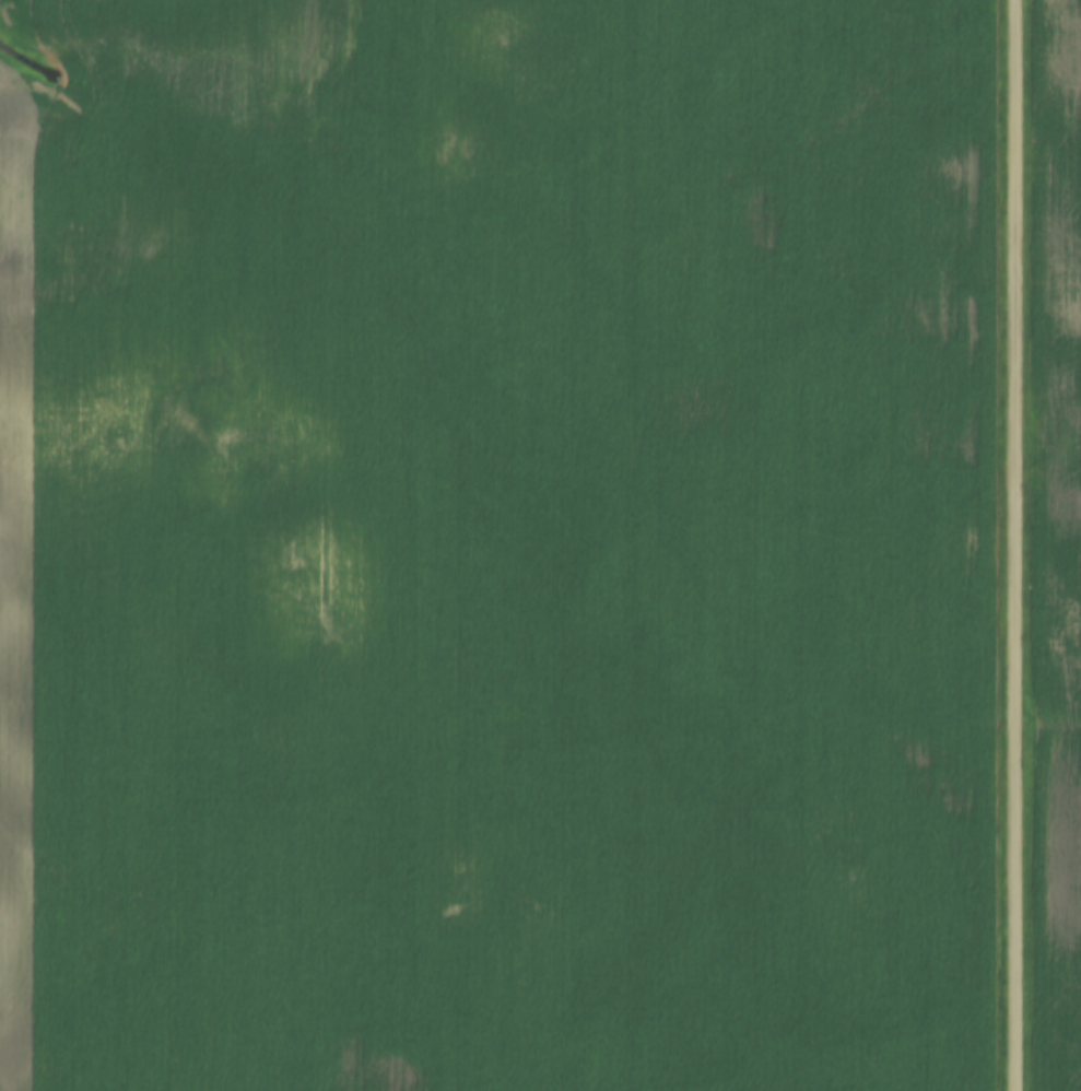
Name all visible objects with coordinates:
road: (1025, 545)

